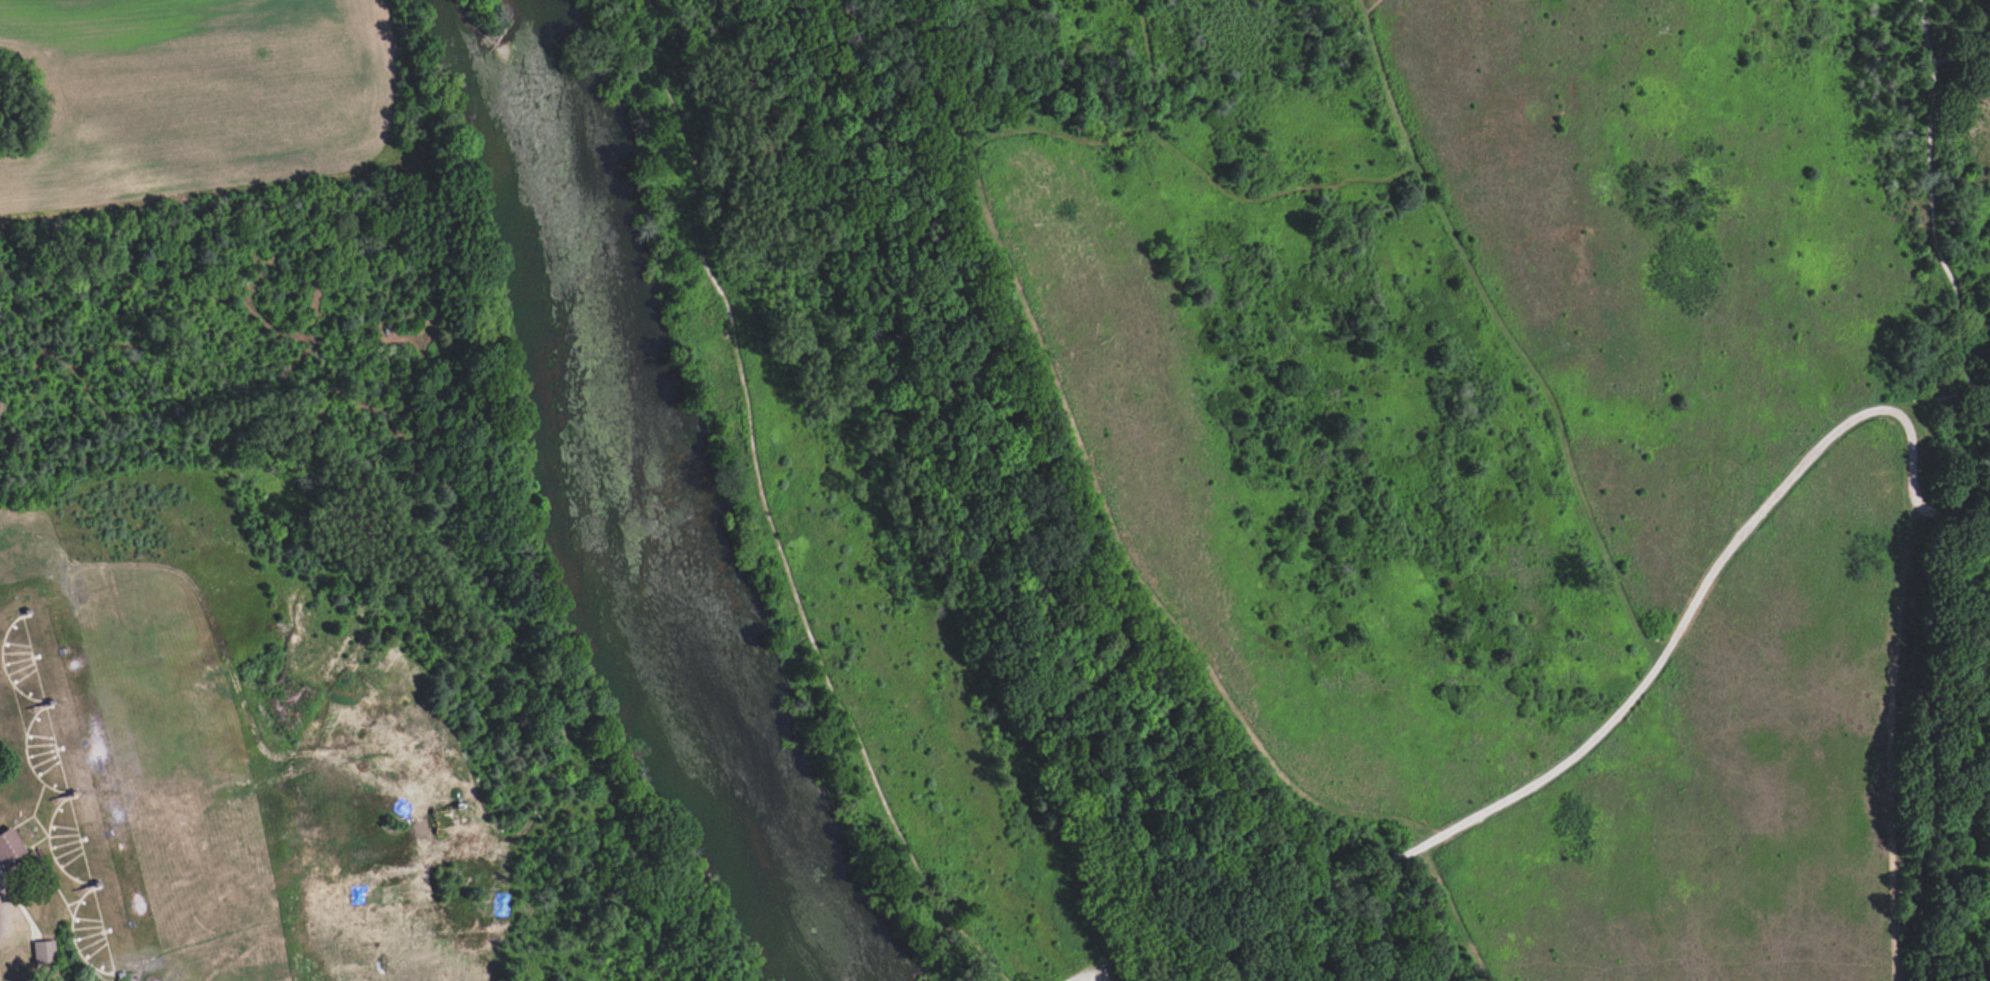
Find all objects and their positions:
park: (1353, 471)
river: (633, 505)
building: (9, 847)
road: (2, 926)
building: (43, 951)

